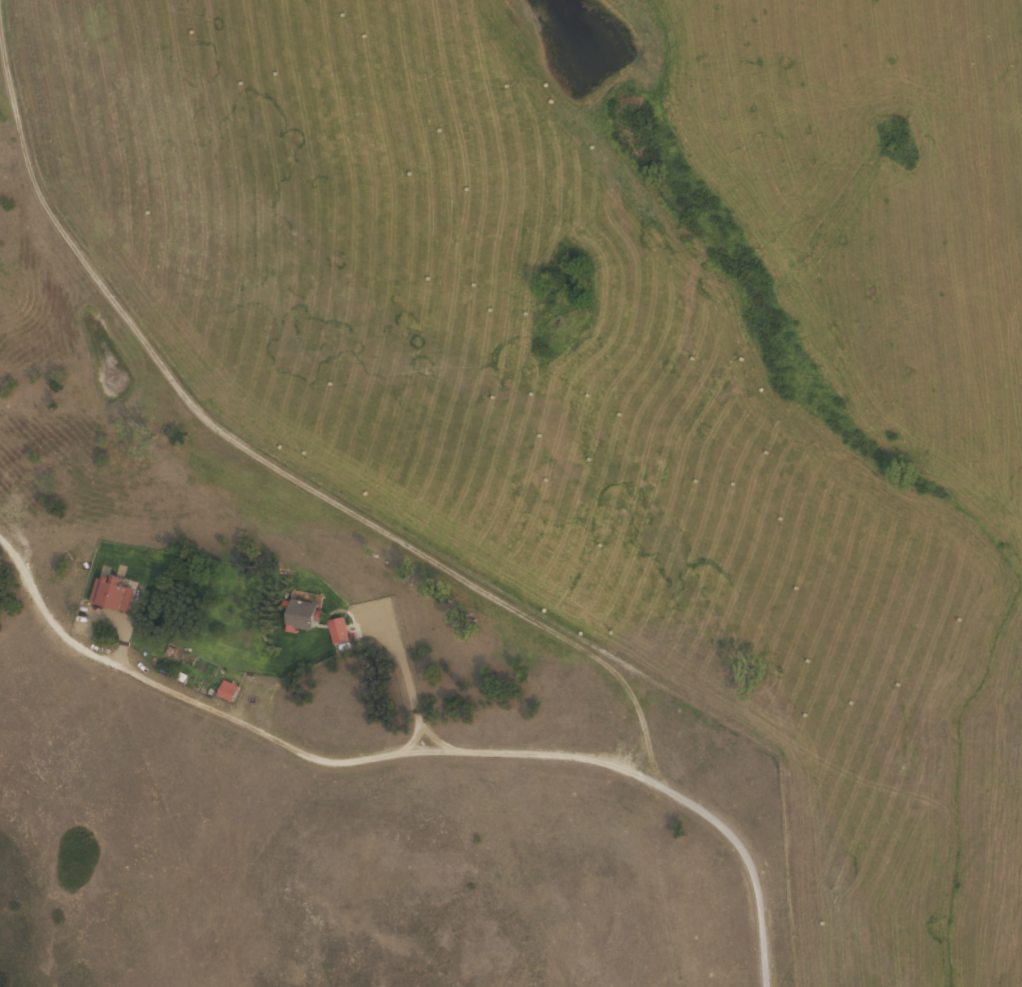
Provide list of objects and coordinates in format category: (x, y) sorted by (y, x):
building: (296, 613)
building: (334, 628)
road: (318, 723)

